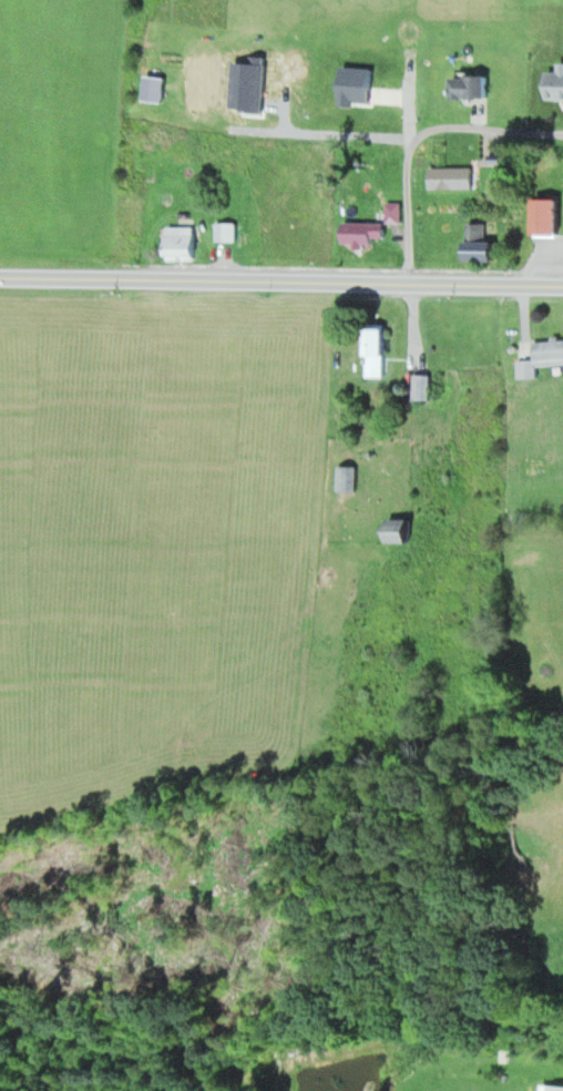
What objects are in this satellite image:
building: (468, 84)
road: (417, 136)
building: (449, 177)
building: (392, 212)
building: (545, 214)
building: (224, 231)
building: (362, 232)
building: (178, 243)
building: (478, 243)
road: (281, 281)
building: (375, 350)
building: (541, 357)
building: (421, 386)
building: (346, 478)
building: (399, 529)
building: (551, 1088)

